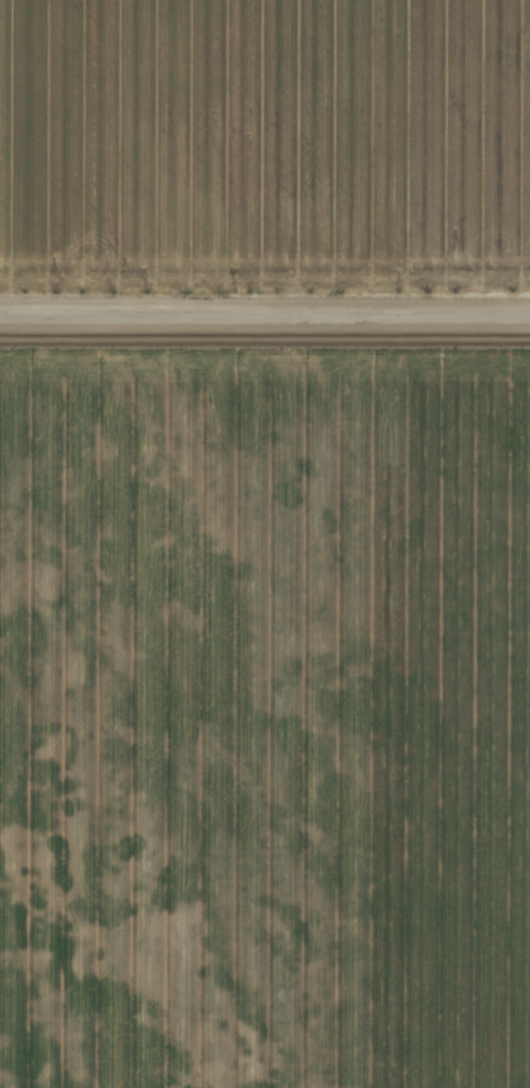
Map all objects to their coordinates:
road: (264, 318)

